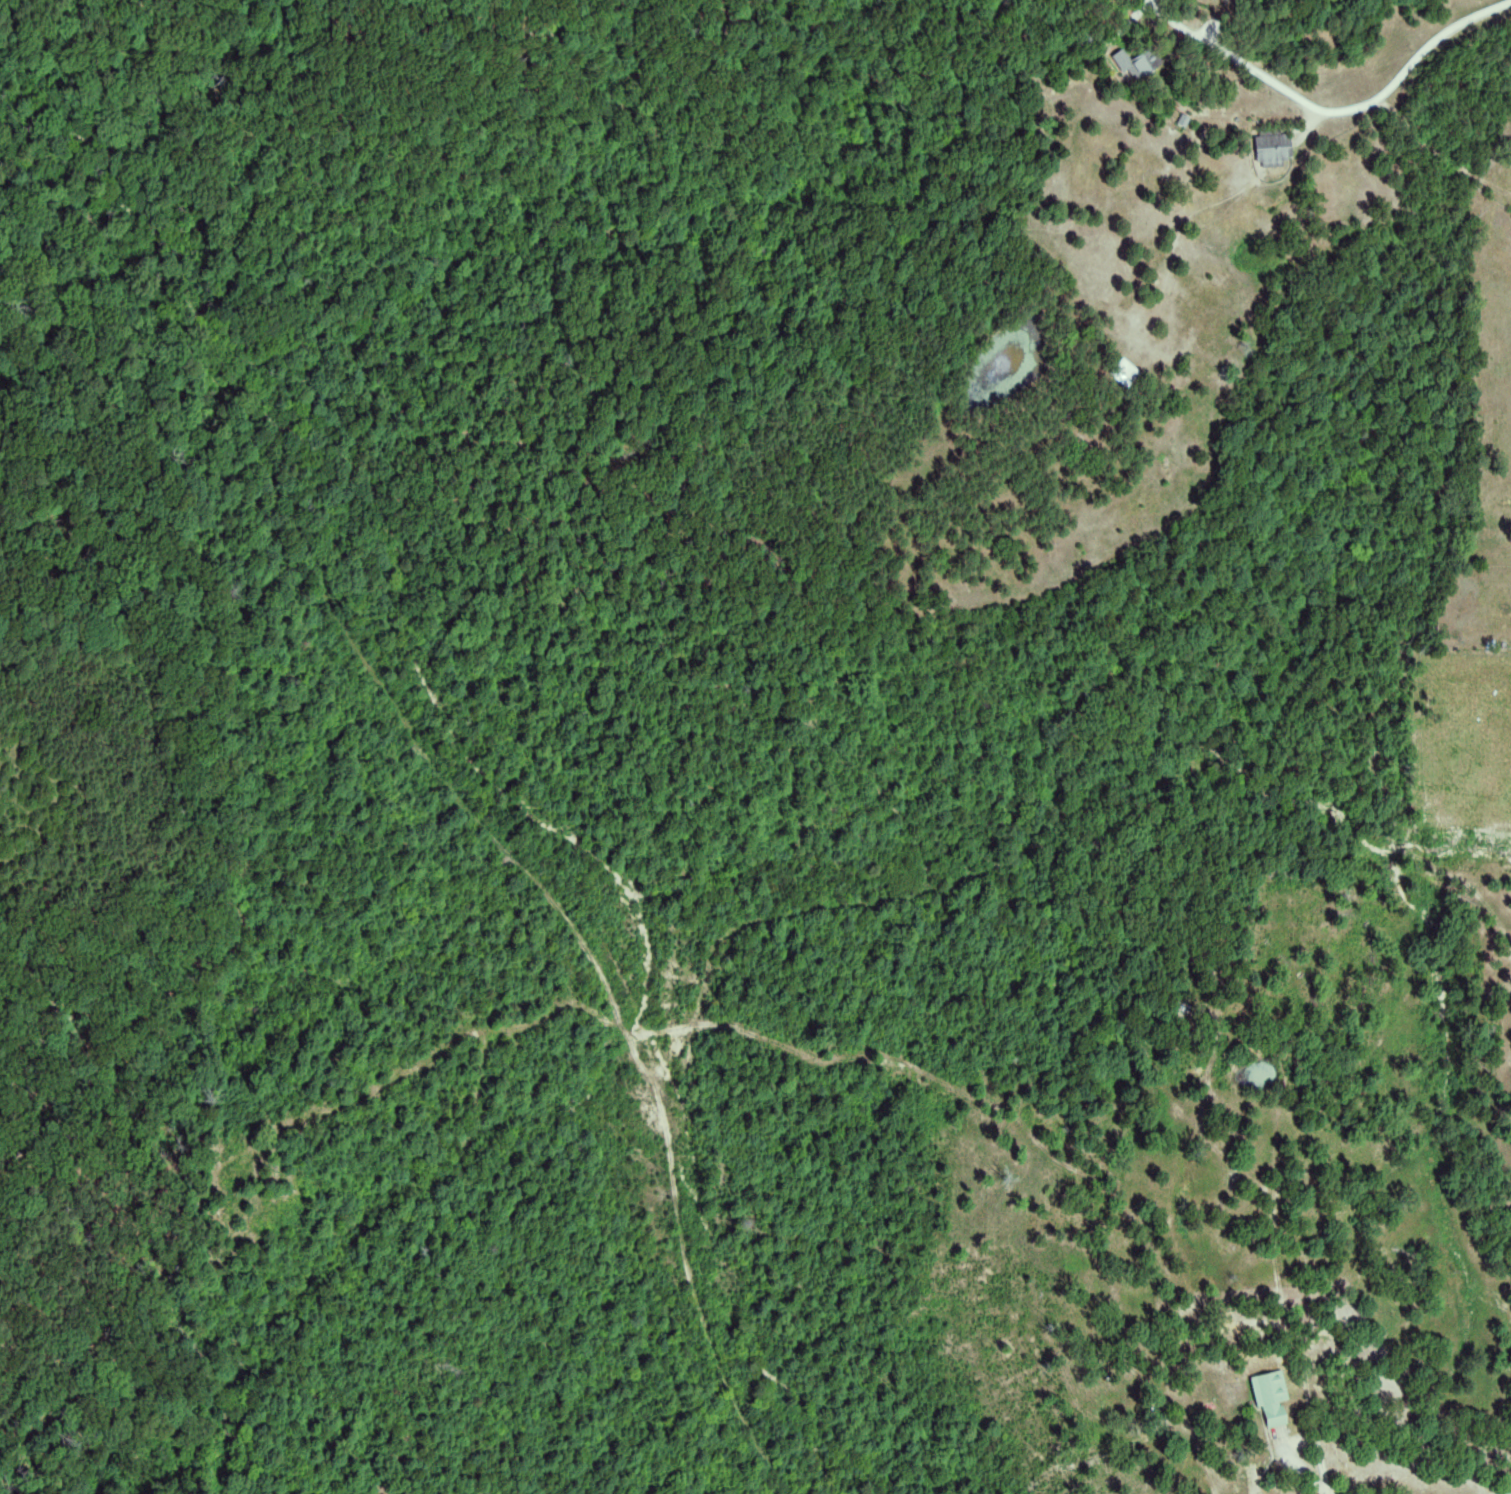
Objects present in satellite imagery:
building: (1276, 148)
building: (1274, 1396)

